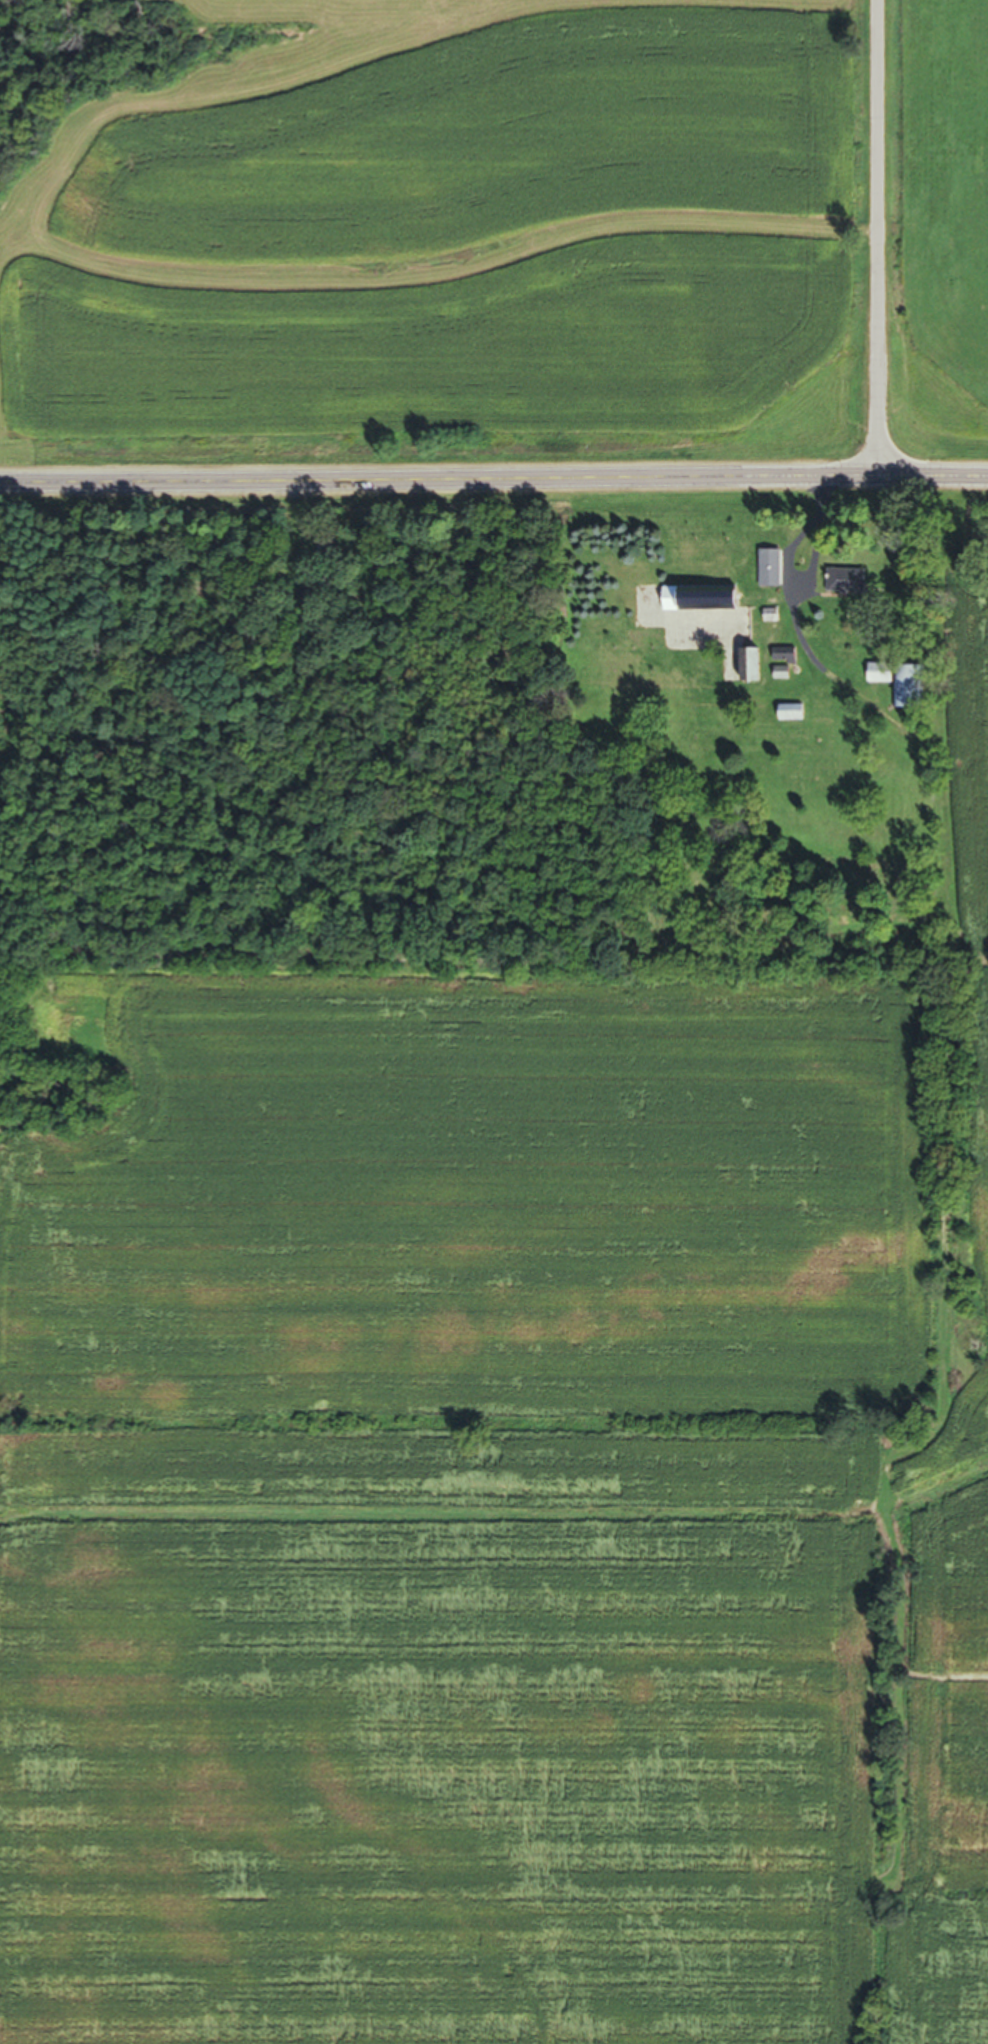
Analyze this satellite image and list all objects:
road: (876, 242)
road: (494, 481)
building: (318, 553)
building: (769, 572)
building: (845, 585)
building: (704, 603)
building: (895, 687)

